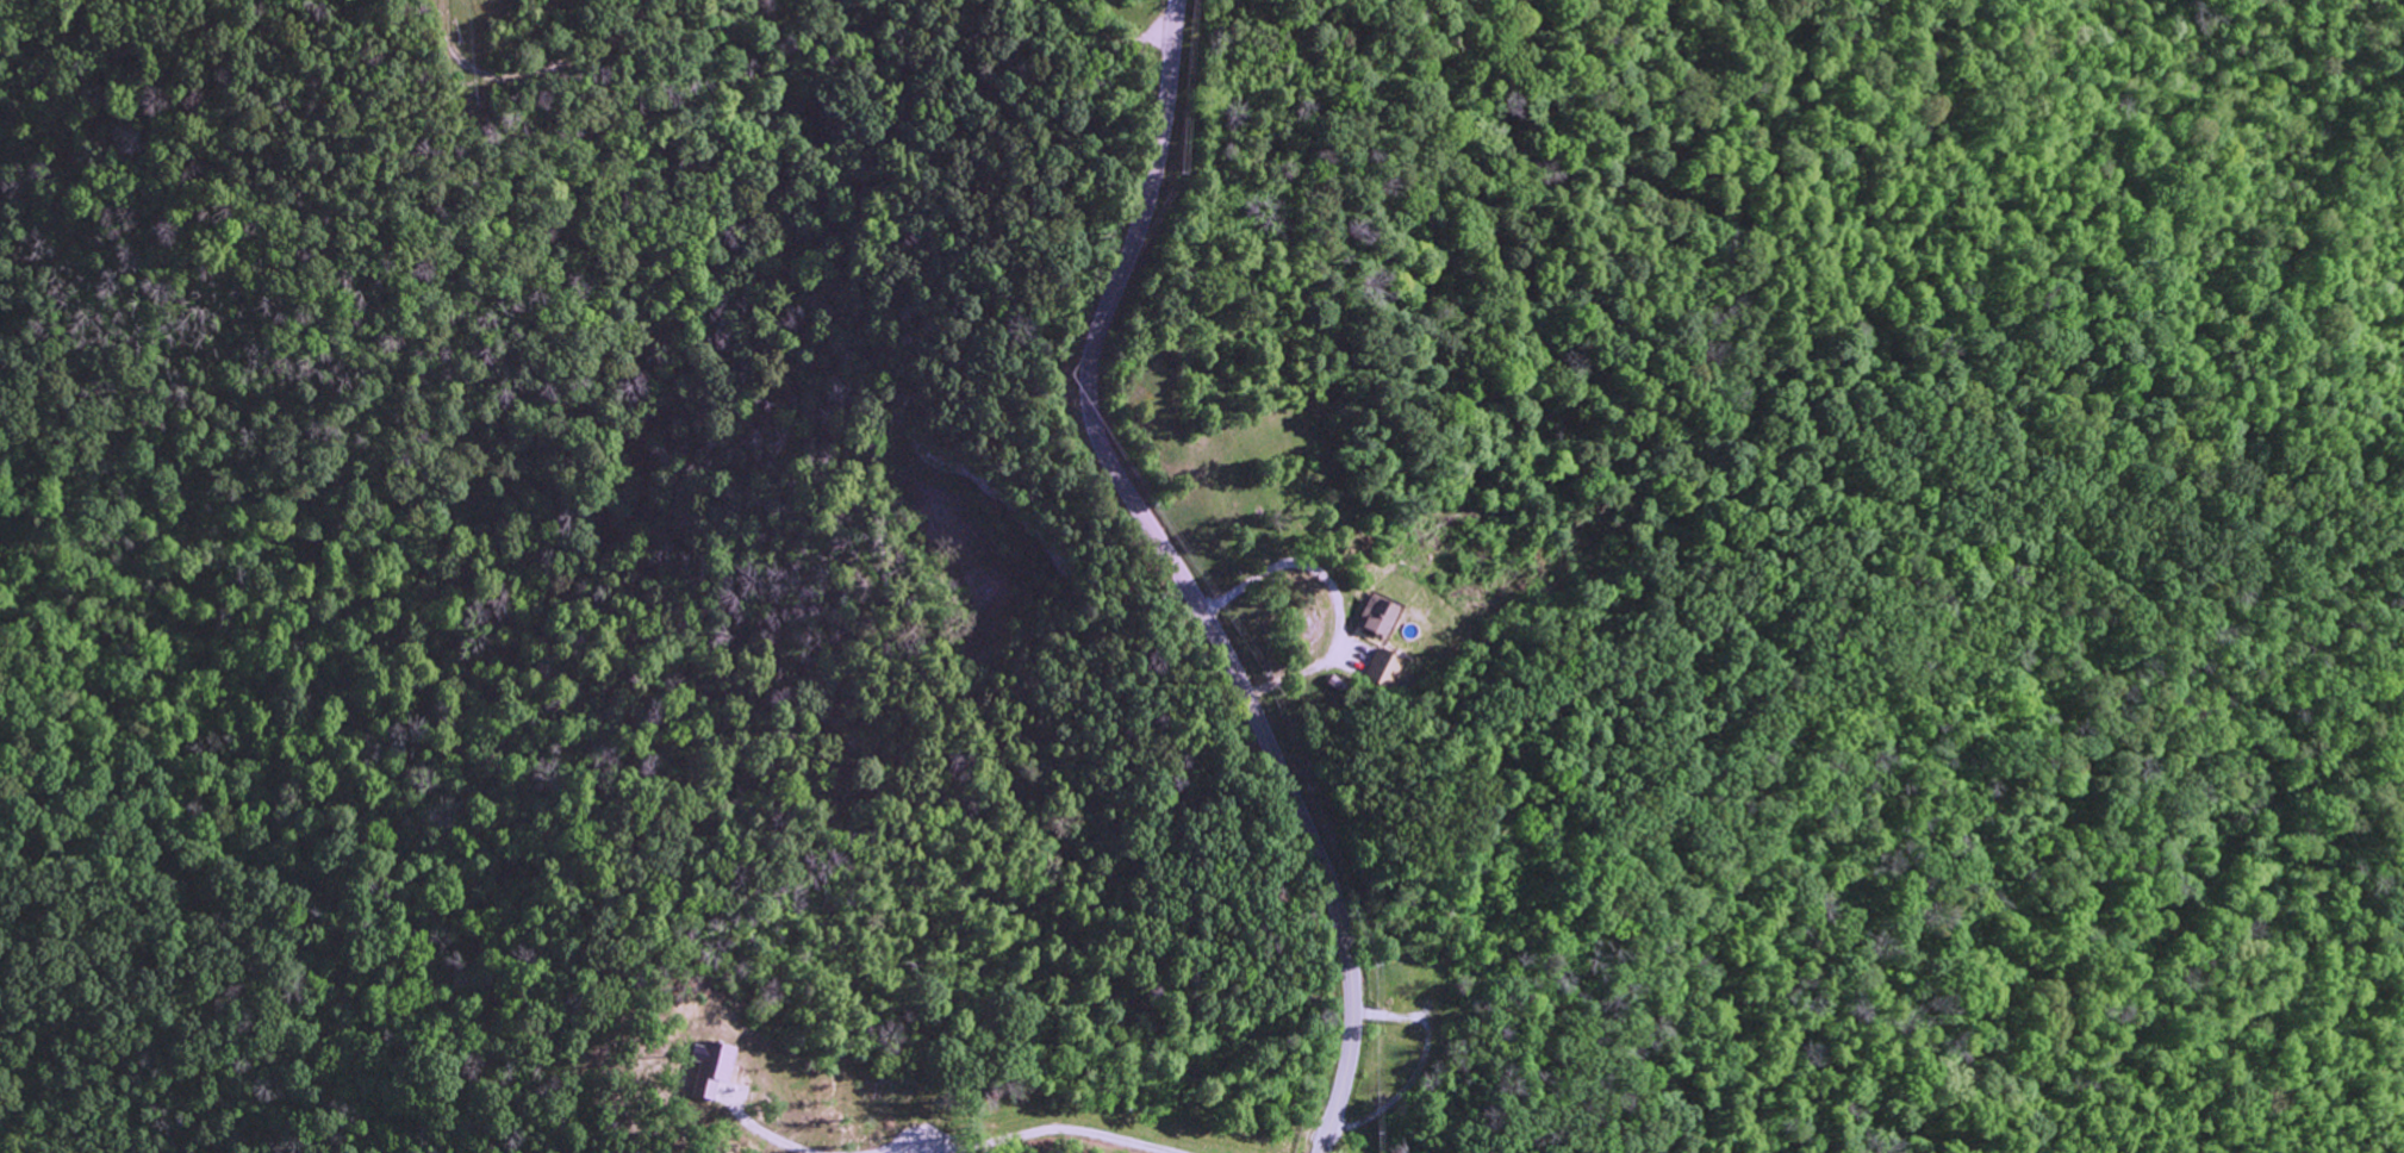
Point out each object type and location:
road: (1182, 578)
building: (1371, 618)
building: (1378, 671)
building: (708, 1071)
road: (1264, 1138)

